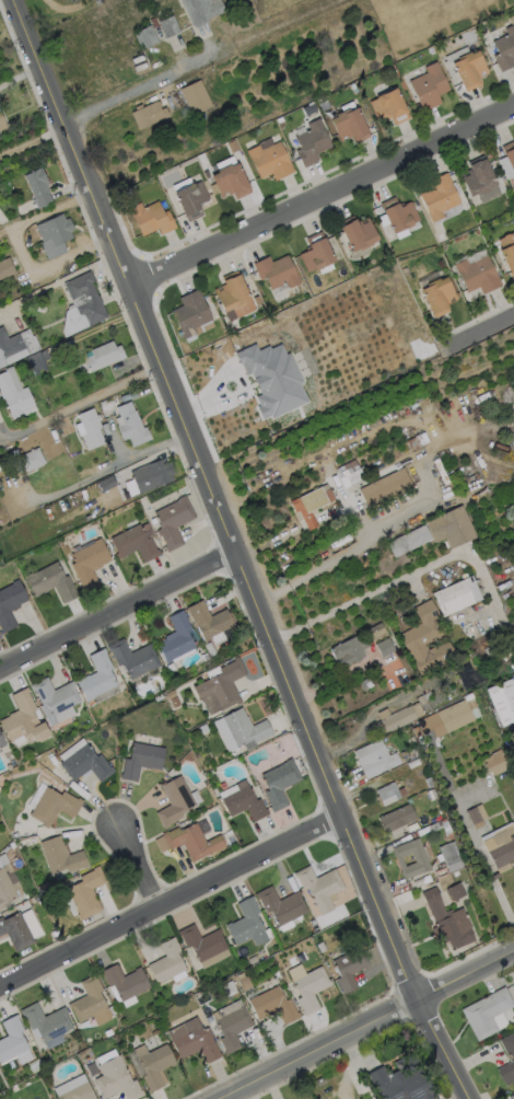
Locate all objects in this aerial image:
building: (201, 11)
building: (166, 25)
building: (144, 36)
building: (504, 48)
building: (467, 68)
road: (139, 85)
building: (427, 86)
building: (194, 96)
building: (387, 106)
building: (147, 114)
building: (2, 123)
building: (347, 123)
building: (309, 141)
building: (509, 153)
building: (268, 160)
building: (476, 175)
building: (229, 180)
building: (36, 186)
road: (319, 195)
building: (436, 195)
building: (189, 198)
building: (397, 212)
building: (150, 217)
building: (357, 232)
building: (52, 234)
road: (19, 250)
building: (315, 252)
building: (506, 252)
building: (4, 267)
building: (274, 270)
building: (476, 274)
building: (232, 294)
building: (435, 296)
building: (80, 303)
building: (189, 312)
road: (479, 332)
building: (10, 348)
building: (103, 355)
building: (36, 361)
building: (265, 371)
building: (13, 396)
road: (81, 402)
building: (129, 425)
building: (89, 428)
building: (26, 460)
road: (109, 465)
building: (348, 473)
building: (150, 474)
road: (433, 483)
building: (384, 487)
building: (309, 504)
building: (171, 521)
building: (449, 527)
building: (412, 537)
building: (131, 543)
road: (232, 552)
building: (86, 564)
building: (49, 581)
building: (455, 595)
road: (363, 598)
building: (9, 603)
road: (116, 611)
building: (207, 620)
building: (373, 629)
building: (175, 637)
building: (423, 638)
building: (383, 646)
building: (347, 650)
building: (131, 659)
building: (95, 676)
building: (221, 685)
building: (55, 697)
building: (424, 698)
building: (501, 701)
building: (454, 715)
building: (396, 717)
building: (22, 719)
building: (244, 728)
building: (2, 742)
building: (373, 759)
building: (140, 760)
building: (493, 762)
building: (84, 764)
building: (278, 783)
building: (388, 794)
building: (172, 800)
building: (243, 803)
building: (51, 806)
building: (475, 815)
building: (395, 818)
building: (190, 841)
building: (499, 845)
road: (480, 853)
building: (59, 856)
building: (449, 856)
building: (409, 858)
road: (141, 867)
road: (491, 877)
building: (318, 887)
building: (4, 890)
building: (85, 892)
road: (168, 900)
building: (280, 904)
road: (503, 904)
building: (446, 922)
building: (245, 924)
building: (15, 932)
building: (201, 941)
building: (165, 961)
building: (348, 968)
building: (124, 981)
building: (306, 985)
building: (89, 1002)
building: (271, 1004)
building: (484, 1011)
building: (45, 1021)
road: (370, 1026)
building: (231, 1028)
building: (11, 1039)
building: (191, 1040)
building: (506, 1057)
building: (152, 1065)
building: (114, 1079)
building: (399, 1081)
building: (77, 1092)
road: (248, 1094)
building: (511, 1096)
road: (233, 1097)

